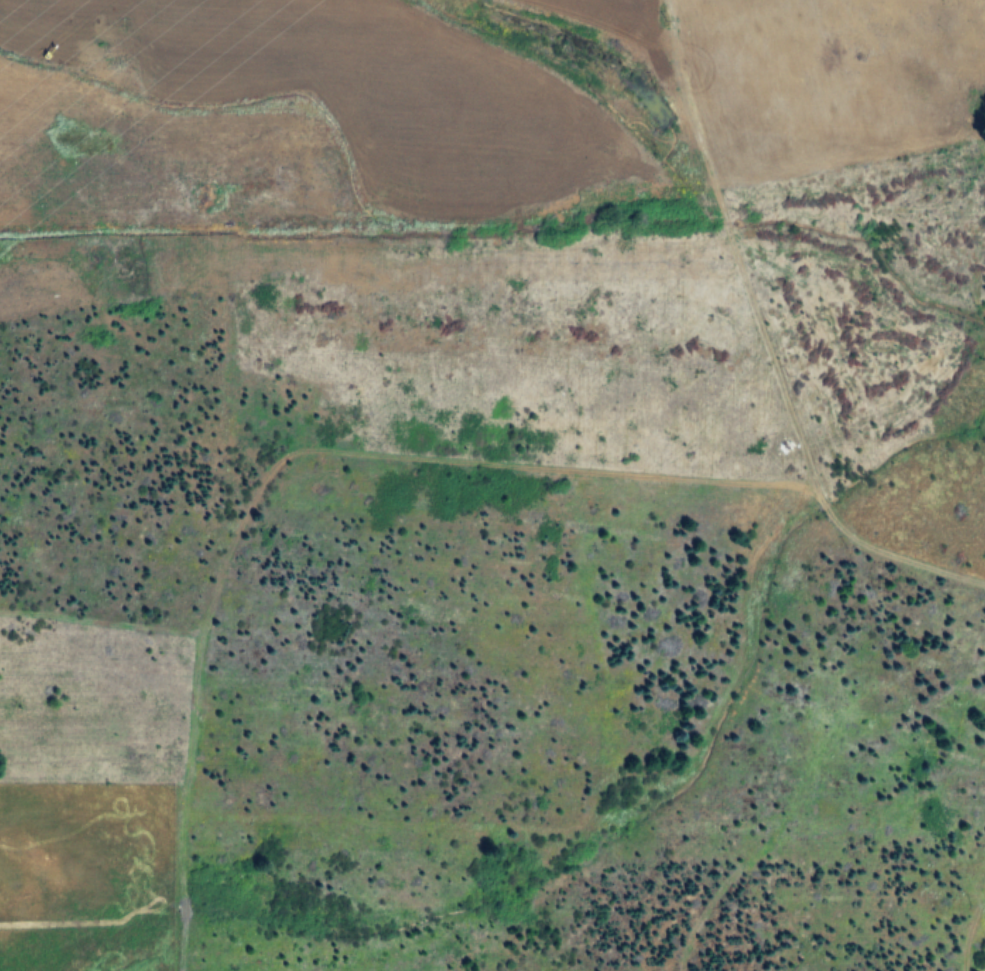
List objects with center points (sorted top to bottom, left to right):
crop: (492, 485)

